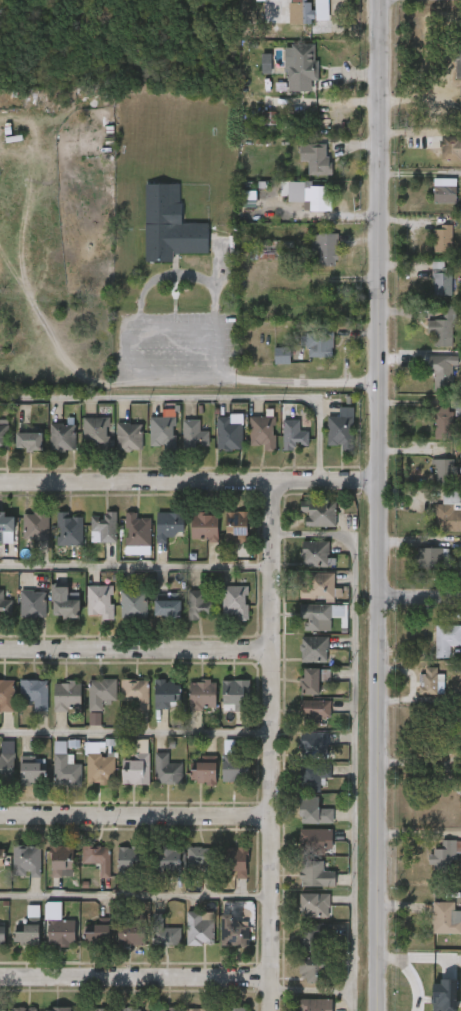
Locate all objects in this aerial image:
building: (307, 11)
building: (458, 53)
building: (301, 66)
road: (434, 68)
building: (460, 96)
building: (269, 117)
building: (451, 147)
building: (316, 158)
building: (444, 193)
building: (309, 197)
building: (247, 199)
building: (169, 227)
building: (442, 237)
building: (268, 250)
building: (326, 250)
building: (441, 278)
building: (442, 326)
building: (320, 342)
building: (282, 356)
building: (442, 371)
road: (254, 381)
road: (197, 396)
building: (443, 421)
building: (339, 428)
building: (161, 431)
building: (27, 432)
building: (94, 432)
building: (228, 432)
building: (261, 432)
building: (3, 433)
building: (193, 434)
building: (293, 434)
building: (60, 436)
building: (128, 436)
building: (442, 471)
road: (189, 480)
road: (379, 505)
building: (317, 513)
building: (447, 517)
building: (5, 522)
building: (167, 524)
building: (35, 526)
building: (202, 526)
building: (101, 527)
building: (234, 527)
building: (68, 529)
building: (137, 529)
building: (314, 553)
building: (431, 557)
road: (136, 568)
building: (315, 586)
road: (420, 597)
building: (98, 601)
building: (233, 603)
building: (32, 604)
building: (64, 604)
building: (132, 604)
building: (4, 605)
building: (199, 605)
building: (165, 608)
building: (314, 617)
building: (446, 639)
building: (313, 648)
road: (135, 650)
building: (428, 679)
building: (308, 681)
building: (33, 693)
building: (100, 693)
building: (234, 693)
building: (133, 694)
building: (166, 694)
building: (66, 695)
building: (201, 695)
building: (6, 696)
building: (313, 712)
road: (349, 735)
road: (136, 736)
building: (312, 744)
road: (272, 745)
building: (6, 767)
building: (134, 768)
building: (99, 769)
building: (234, 769)
building: (65, 770)
building: (166, 770)
building: (31, 772)
building: (201, 772)
building: (311, 774)
building: (311, 811)
road: (136, 816)
building: (316, 840)
building: (444, 852)
building: (0, 855)
building: (96, 858)
building: (129, 858)
building: (60, 859)
building: (202, 859)
building: (25, 860)
building: (165, 860)
building: (233, 861)
building: (314, 874)
road: (136, 901)
building: (313, 905)
building: (33, 911)
building: (446, 917)
building: (198, 927)
building: (59, 931)
building: (233, 931)
building: (1, 933)
building: (24, 933)
building: (95, 934)
building: (130, 936)
building: (168, 936)
building: (313, 937)
building: (309, 969)
road: (135, 978)
building: (441, 980)
road: (309, 990)
building: (444, 995)
building: (314, 1005)
building: (23, 1009)
building: (163, 1009)
building: (231, 1009)
building: (1, 1010)
building: (57, 1010)
building: (94, 1010)
building: (127, 1010)
building: (199, 1010)

